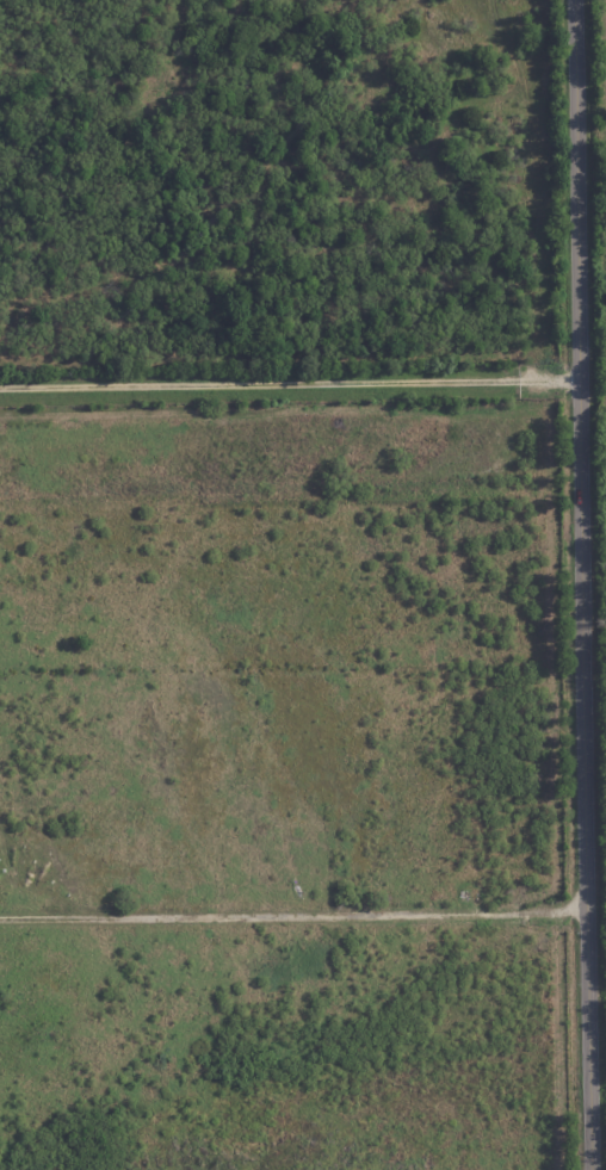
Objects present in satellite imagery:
road: (289, 384)
road: (580, 584)
road: (292, 912)

